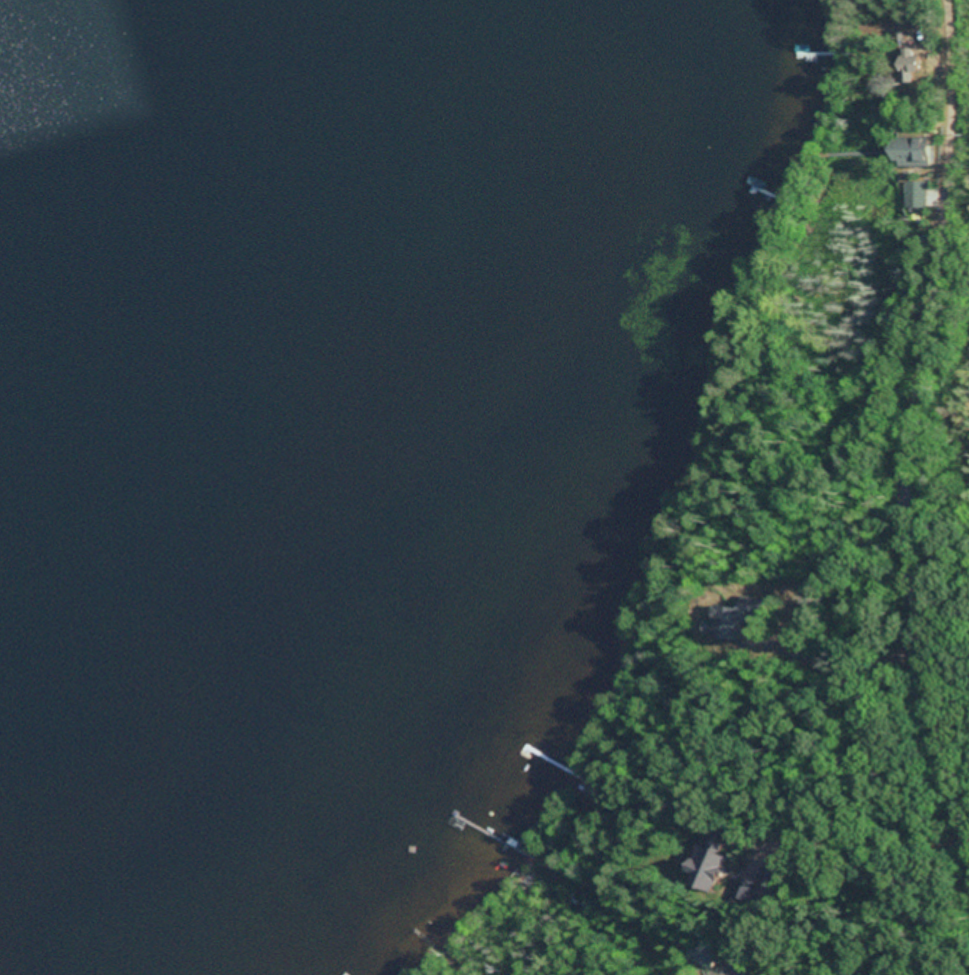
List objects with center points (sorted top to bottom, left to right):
building: (906, 65)
building: (908, 154)
building: (918, 197)
building: (928, 244)
road: (910, 414)
building: (736, 619)
building: (705, 870)
building: (746, 892)

